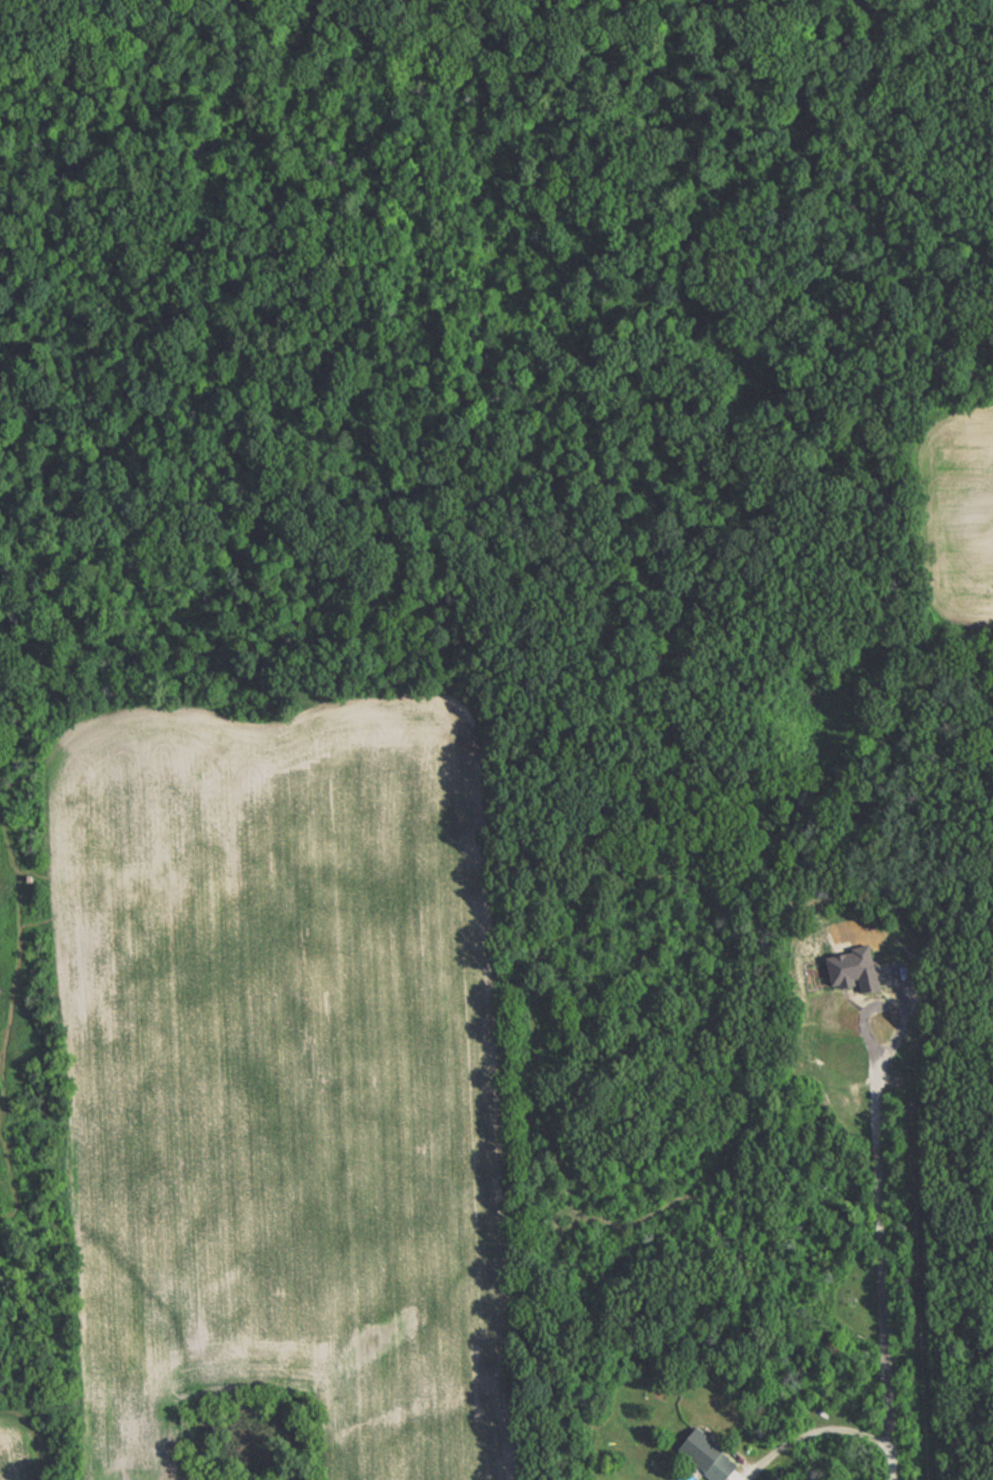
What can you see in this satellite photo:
building: (848, 1021)
road: (875, 1266)
road: (811, 1431)
building: (709, 1454)

